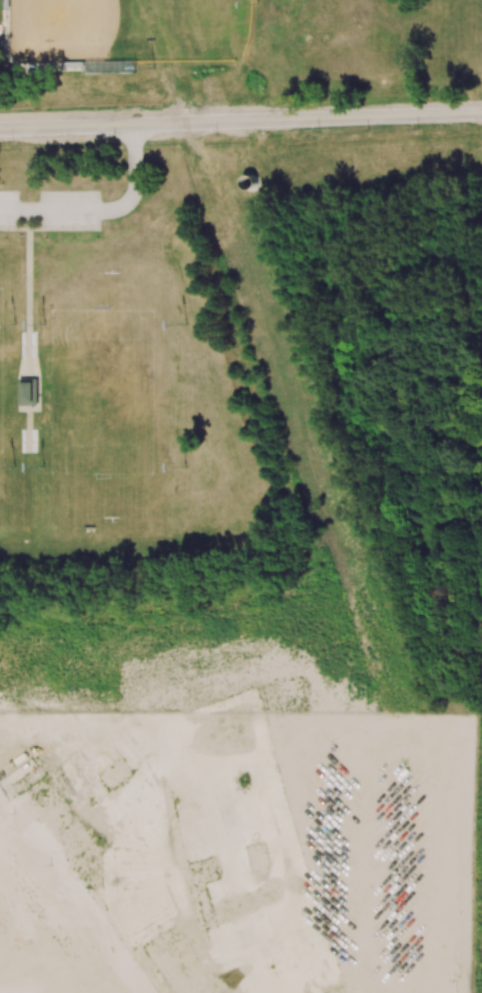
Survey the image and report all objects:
park: (76, 31)
road: (171, 61)
road: (241, 121)
park: (122, 389)
building: (29, 392)
park: (115, 394)

